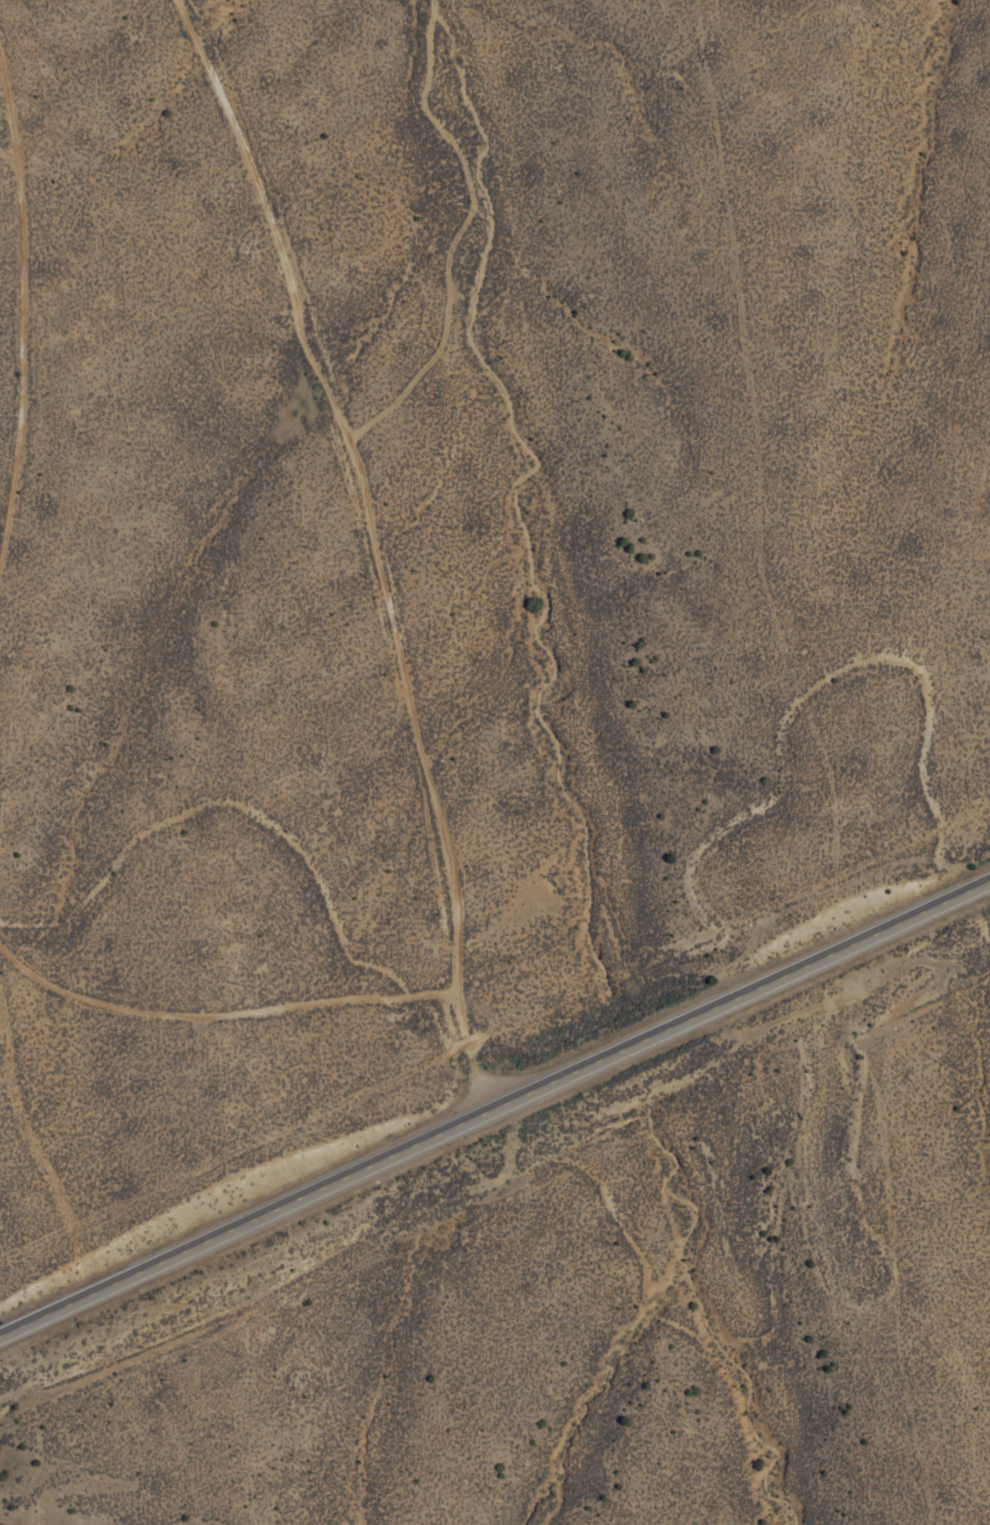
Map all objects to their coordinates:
road: (22, 313)
road: (367, 482)
road: (220, 1006)
road: (495, 1107)

